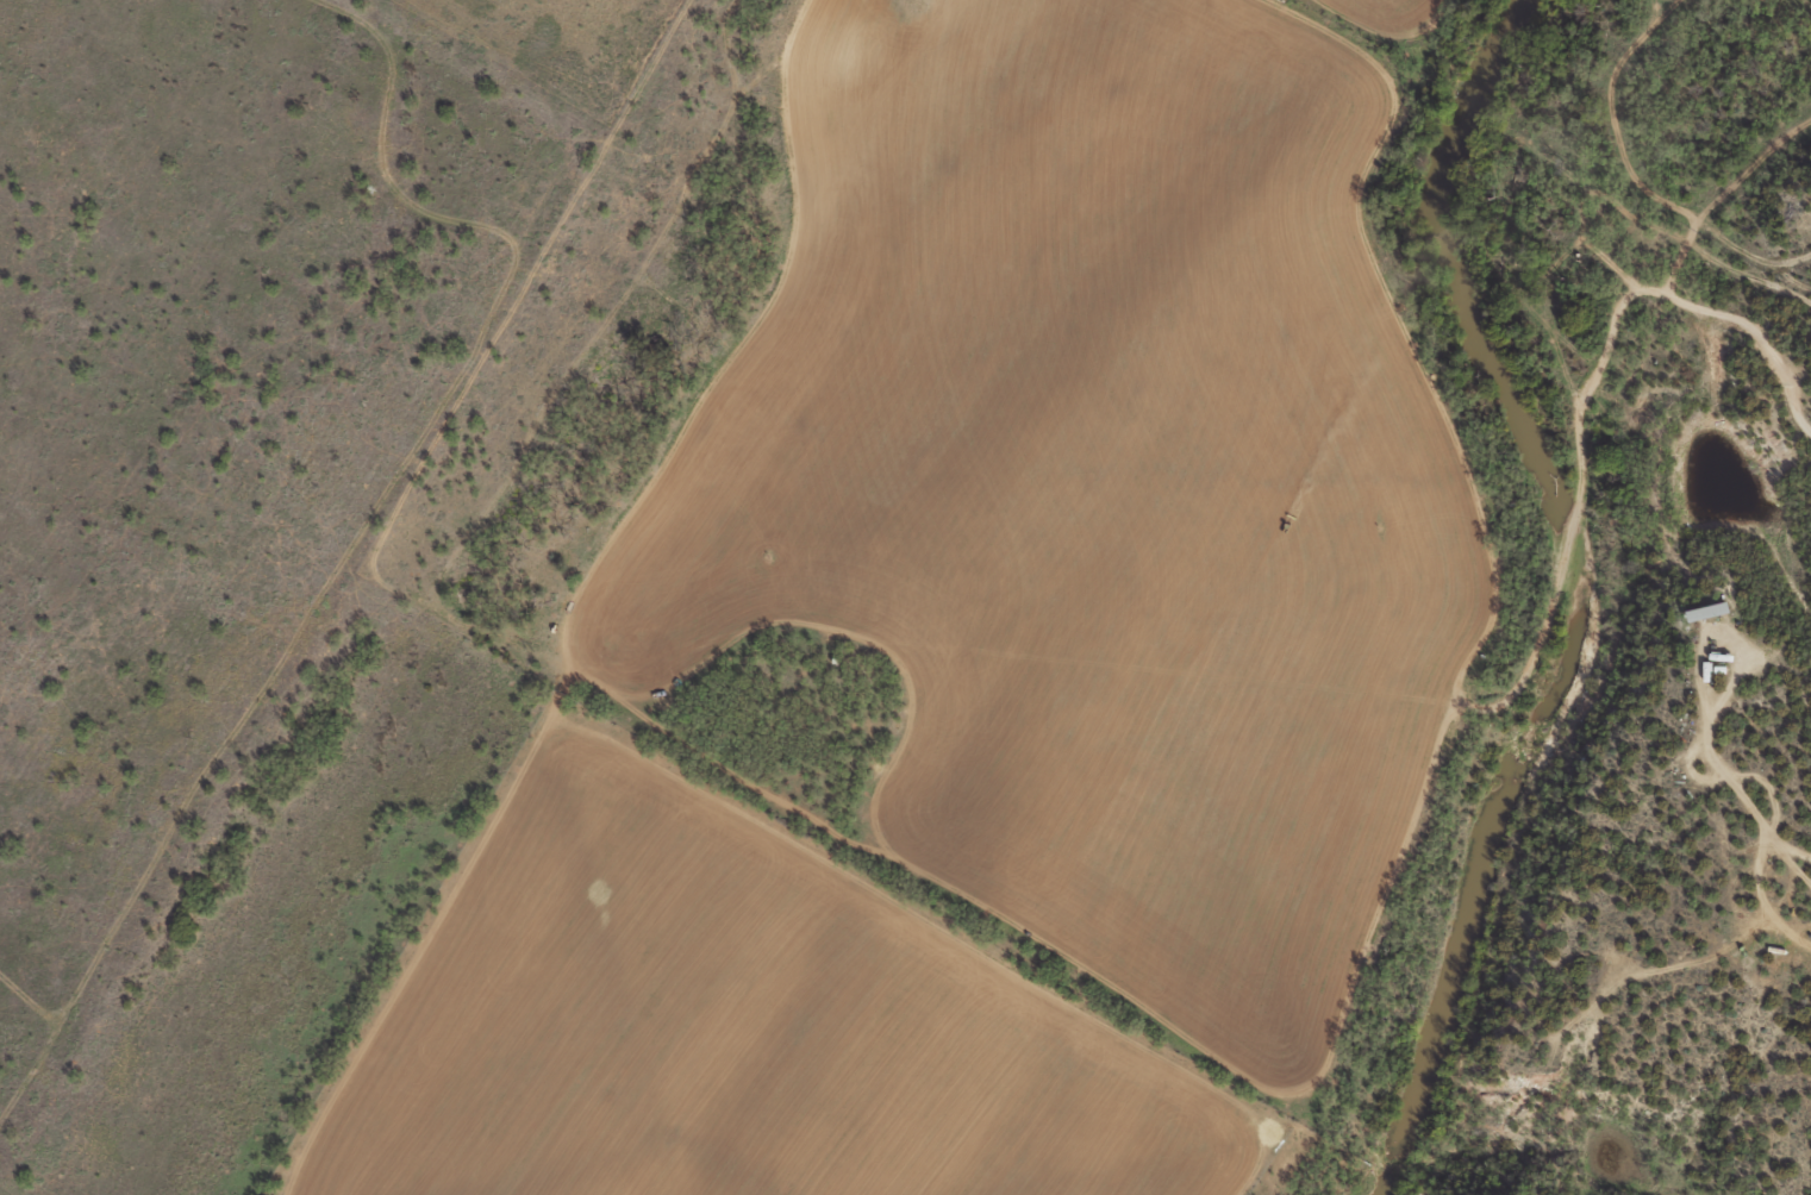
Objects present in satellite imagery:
road: (1709, 302)

